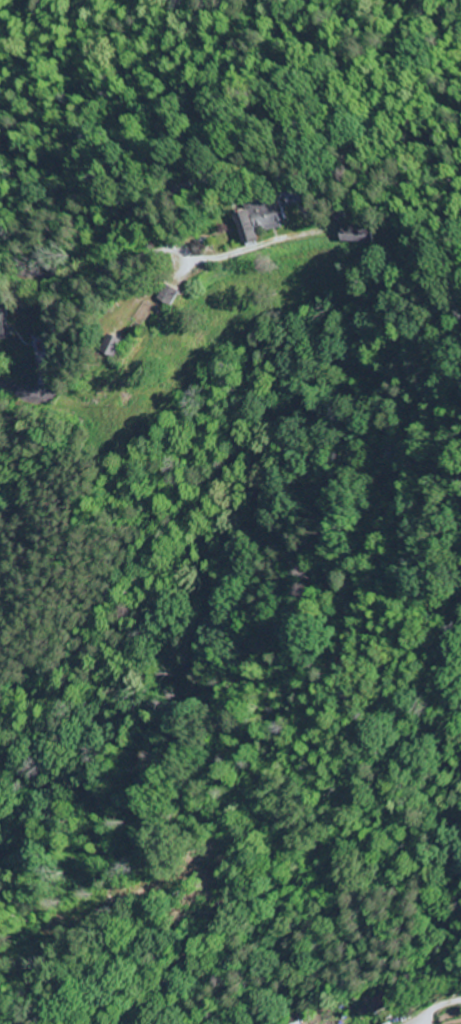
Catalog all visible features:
road: (209, 55)
building: (262, 220)
building: (358, 235)
road: (29, 273)
building: (163, 296)
building: (9, 322)
building: (104, 347)

